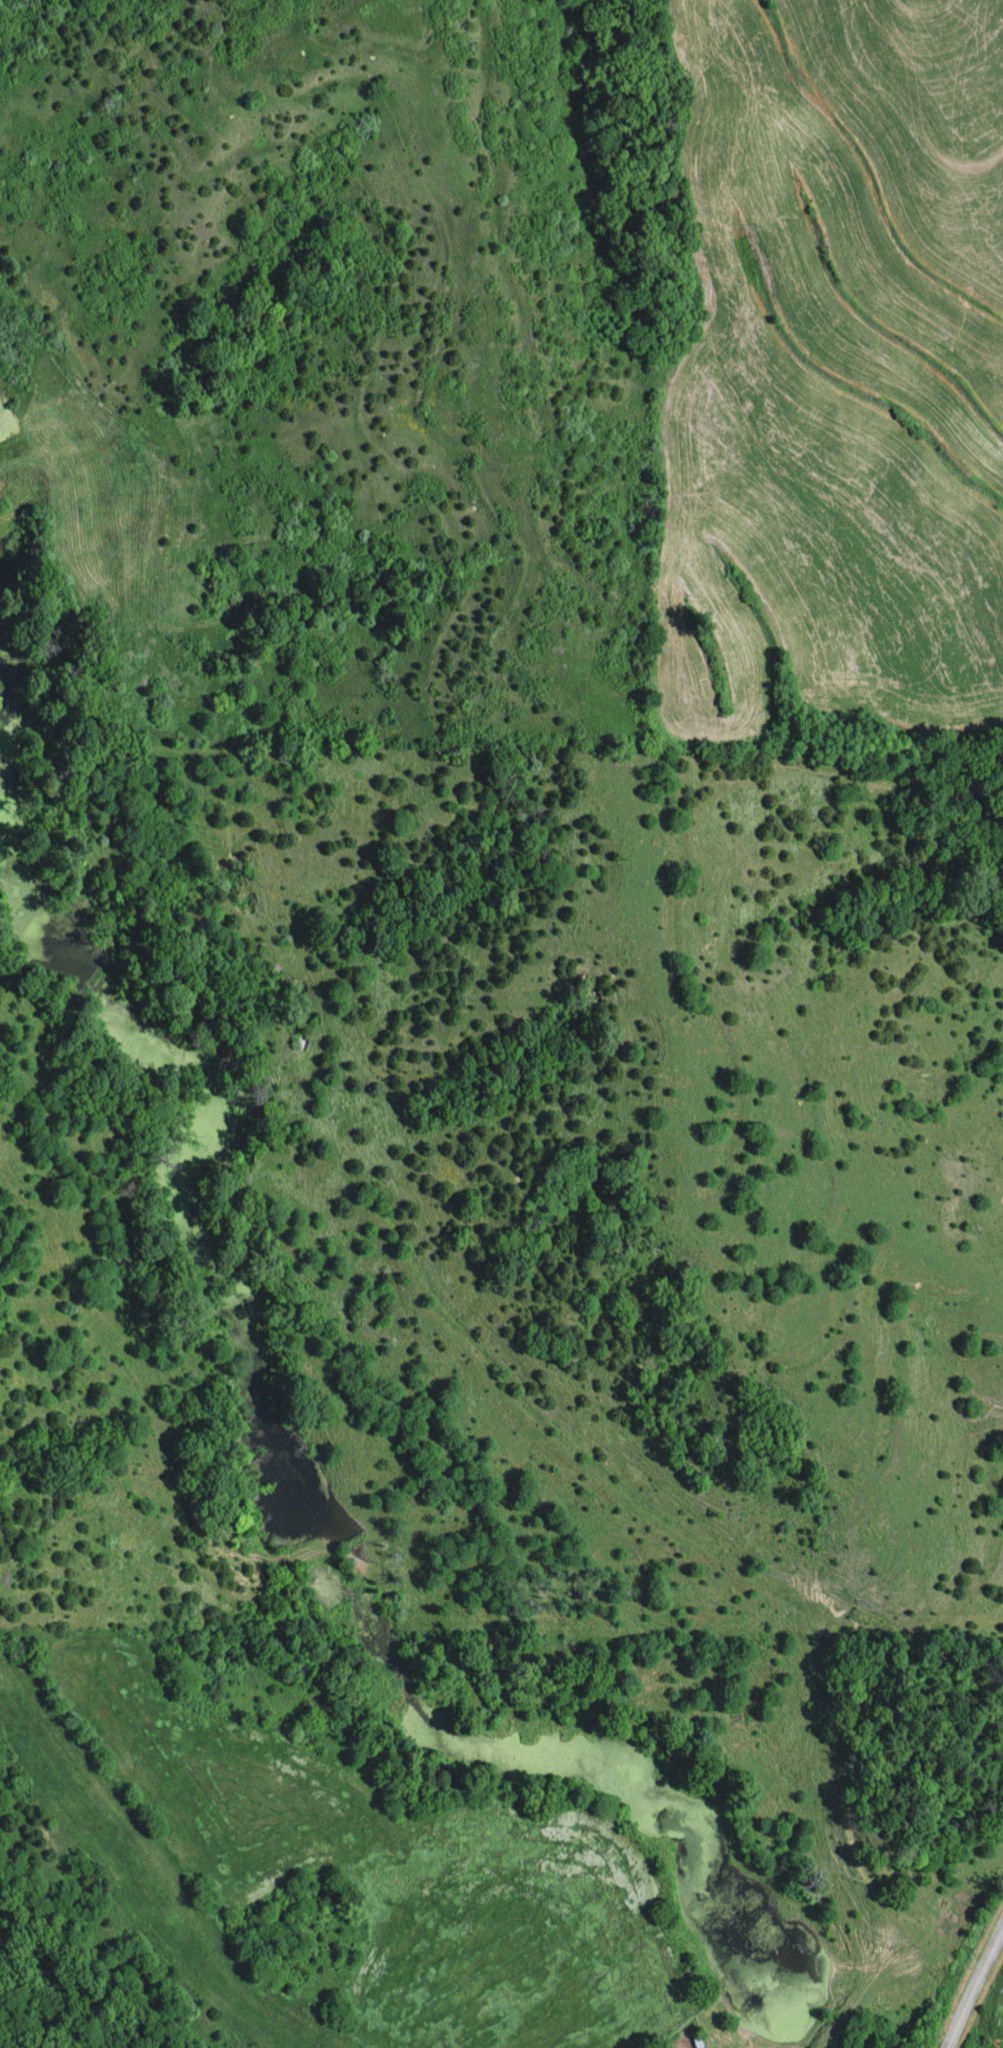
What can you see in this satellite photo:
road: (971, 1980)

